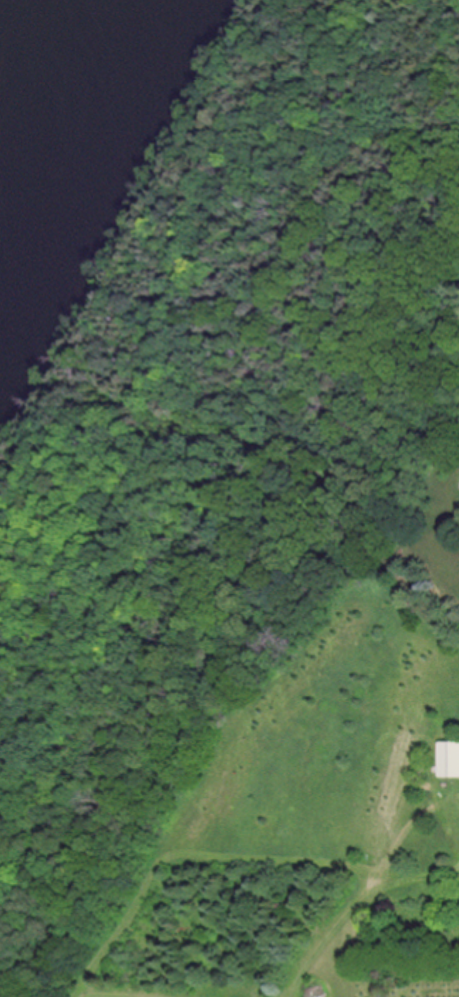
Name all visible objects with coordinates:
building: (450, 759)
crop: (331, 822)

